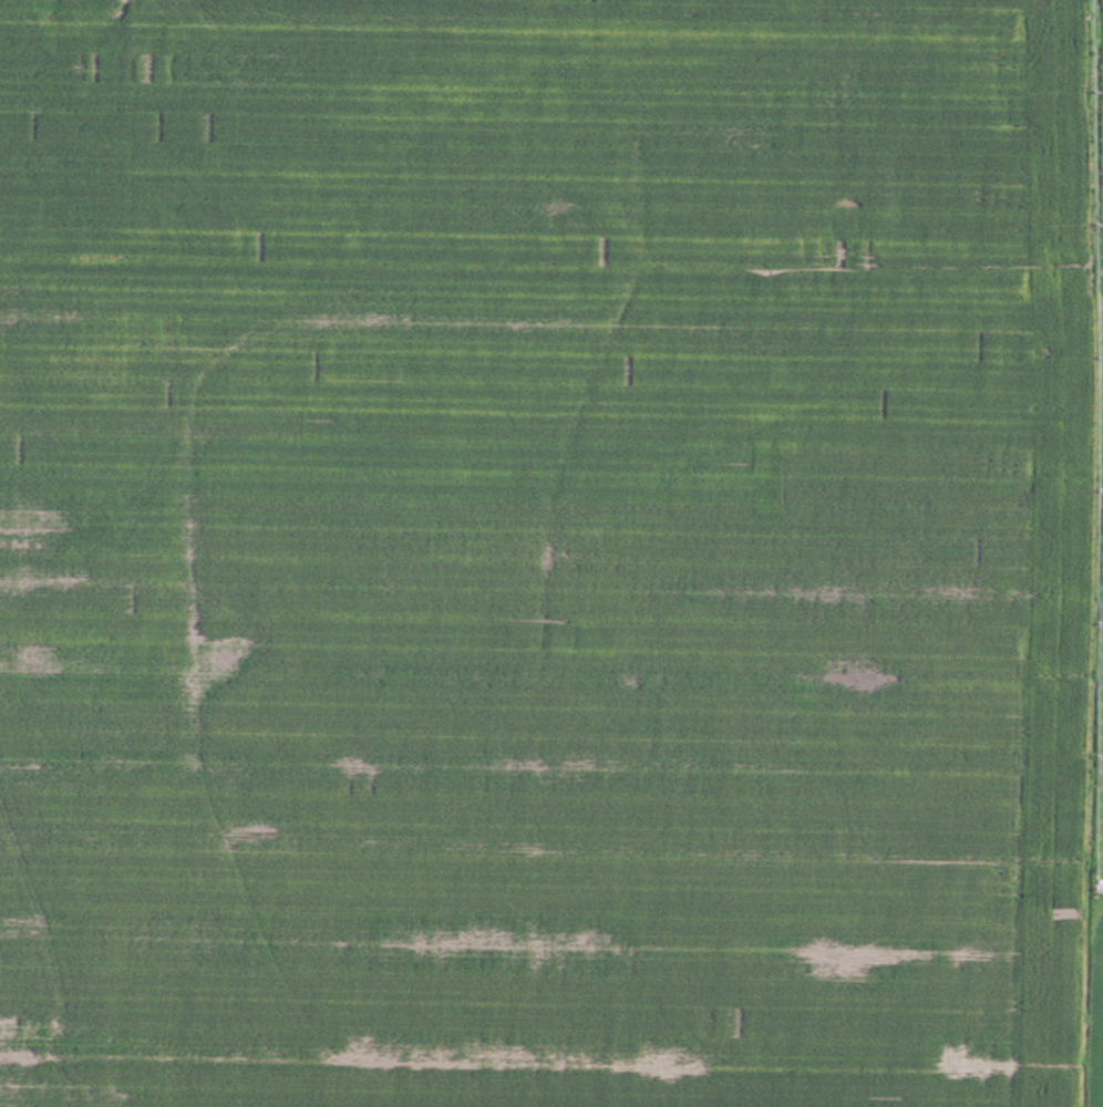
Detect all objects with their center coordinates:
crop: (551, 553)

